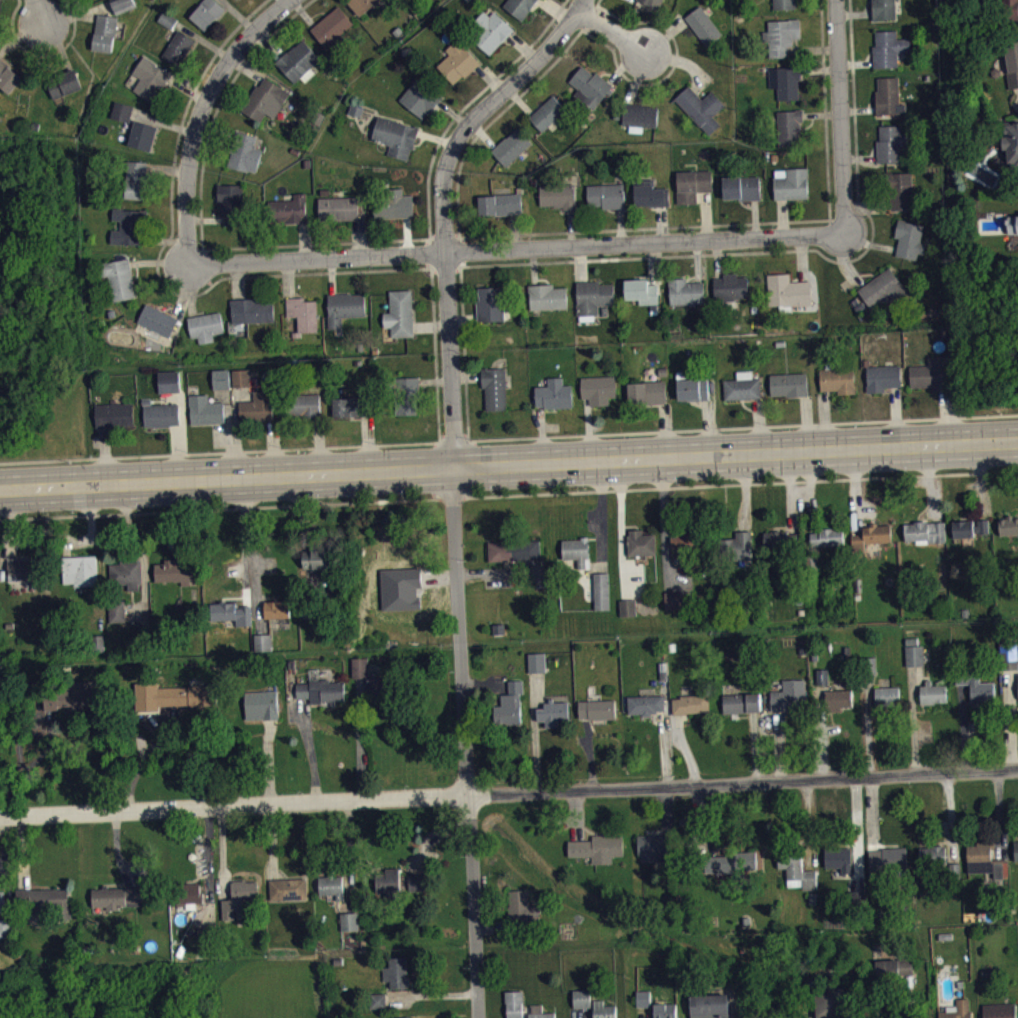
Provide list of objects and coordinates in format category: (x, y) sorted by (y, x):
building: (238, 1)
road: (596, 3)
building: (652, 3)
building: (783, 3)
building: (122, 4)
building: (362, 5)
building: (519, 7)
building: (883, 9)
building: (1008, 10)
road: (38, 11)
building: (207, 12)
road: (587, 17)
building: (167, 19)
building: (703, 25)
building: (169, 26)
building: (332, 26)
building: (491, 30)
building: (104, 32)
road: (614, 33)
building: (781, 36)
building: (178, 47)
building: (888, 48)
road: (42, 53)
building: (298, 61)
building: (457, 61)
building: (1012, 62)
road: (670, 68)
building: (7, 76)
building: (149, 77)
building: (784, 81)
building: (64, 83)
building: (590, 86)
building: (888, 96)
building: (420, 97)
building: (265, 100)
road: (464, 105)
building: (700, 107)
road: (823, 109)
building: (122, 110)
building: (356, 110)
building: (546, 113)
road: (202, 115)
building: (634, 115)
building: (124, 118)
road: (839, 118)
road: (492, 120)
building: (789, 127)
building: (142, 135)
building: (395, 136)
building: (1011, 143)
building: (890, 144)
building: (511, 146)
building: (244, 151)
building: (135, 179)
building: (791, 183)
building: (692, 185)
building: (741, 187)
building: (900, 190)
building: (649, 193)
building: (557, 194)
building: (605, 195)
building: (231, 202)
building: (393, 204)
building: (503, 205)
building: (338, 207)
building: (289, 208)
road: (200, 219)
building: (1012, 223)
building: (129, 225)
road: (643, 227)
road: (443, 237)
building: (909, 239)
road: (517, 248)
road: (793, 249)
road: (458, 250)
road: (429, 251)
road: (157, 263)
road: (444, 264)
building: (119, 277)
building: (730, 287)
building: (641, 290)
building: (885, 290)
building: (685, 291)
building: (787, 291)
building: (547, 296)
building: (592, 298)
building: (490, 304)
building: (345, 306)
building: (251, 310)
building: (303, 313)
building: (400, 313)
building: (157, 320)
building: (205, 325)
road: (433, 352)
road: (463, 352)
building: (931, 373)
building: (241, 377)
building: (882, 377)
building: (220, 378)
building: (837, 378)
building: (168, 381)
building: (789, 384)
building: (243, 385)
building: (691, 386)
building: (742, 386)
building: (494, 387)
building: (598, 389)
building: (646, 392)
building: (554, 393)
building: (407, 396)
building: (303, 405)
building: (353, 405)
building: (257, 407)
building: (205, 408)
building: (113, 413)
building: (160, 413)
road: (742, 427)
road: (452, 440)
road: (219, 452)
road: (509, 465)
road: (452, 482)
road: (739, 483)
road: (457, 497)
road: (446, 498)
road: (219, 508)
building: (1008, 525)
building: (969, 527)
building: (925, 532)
road: (241, 535)
building: (871, 536)
building: (827, 537)
building: (688, 539)
building: (640, 542)
building: (782, 542)
building: (736, 546)
building: (512, 548)
building: (576, 550)
building: (320, 559)
building: (27, 568)
building: (79, 570)
building: (174, 570)
building: (127, 573)
building: (601, 590)
building: (414, 594)
building: (628, 607)
building: (677, 607)
building: (276, 609)
building: (116, 611)
building: (230, 612)
building: (630, 614)
building: (262, 641)
building: (264, 649)
building: (916, 659)
building: (534, 660)
building: (359, 666)
building: (538, 669)
building: (362, 675)
building: (824, 683)
building: (378, 687)
building: (320, 689)
building: (186, 694)
building: (71, 695)
building: (980, 696)
building: (935, 700)
building: (740, 701)
building: (690, 702)
building: (260, 703)
building: (508, 703)
building: (645, 703)
building: (791, 703)
building: (889, 703)
building: (841, 706)
building: (596, 707)
building: (744, 710)
building: (552, 711)
building: (648, 711)
building: (693, 711)
building: (599, 716)
road: (533, 729)
road: (20, 733)
road: (144, 760)
road: (508, 790)
road: (432, 837)
road: (348, 855)
building: (599, 855)
building: (656, 855)
building: (1017, 857)
building: (935, 861)
road: (210, 865)
building: (841, 865)
building: (890, 868)
building: (987, 868)
building: (732, 869)
building: (799, 879)
building: (386, 880)
building: (414, 881)
building: (330, 884)
building: (285, 887)
building: (418, 890)
building: (187, 892)
building: (333, 894)
building: (115, 895)
building: (237, 895)
building: (1, 900)
building: (44, 900)
building: (117, 906)
building: (523, 915)
building: (347, 919)
building: (5, 926)
building: (351, 928)
building: (206, 934)
building: (395, 971)
building: (895, 975)
building: (377, 999)
building: (583, 1005)
building: (645, 1005)
building: (832, 1006)
building: (380, 1007)
building: (516, 1008)
building: (712, 1009)
building: (962, 1012)
building: (605, 1013)
building: (537, 1014)
building: (667, 1014)
building: (400, 1016)

